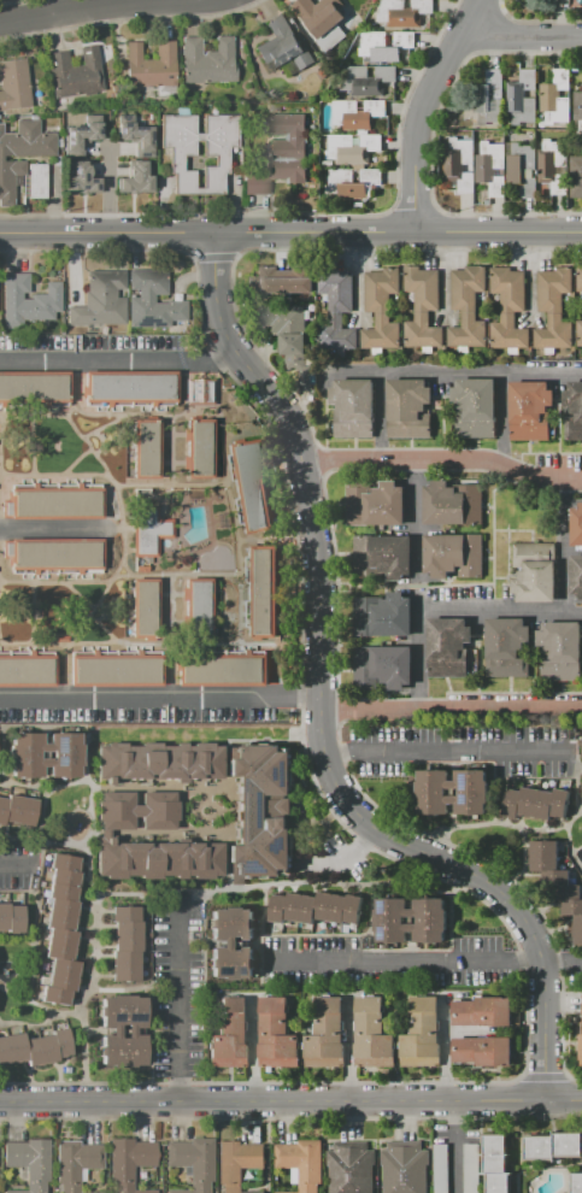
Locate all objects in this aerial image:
road: (72, 8)
building: (404, 12)
building: (322, 22)
road: (523, 35)
building: (283, 46)
building: (383, 46)
building: (207, 61)
building: (149, 65)
building: (75, 74)
building: (368, 81)
building: (14, 86)
building: (489, 96)
building: (554, 98)
building: (521, 99)
building: (577, 105)
road: (422, 111)
building: (355, 113)
building: (80, 137)
building: (136, 137)
building: (288, 147)
building: (352, 148)
building: (214, 152)
building: (20, 153)
building: (196, 163)
building: (462, 164)
building: (553, 165)
building: (492, 168)
building: (523, 169)
building: (576, 176)
building: (81, 178)
building: (135, 178)
building: (35, 180)
building: (353, 183)
building: (255, 184)
road: (108, 192)
road: (108, 235)
road: (316, 235)
road: (498, 235)
building: (284, 280)
building: (580, 280)
building: (29, 300)
building: (100, 300)
building: (152, 301)
building: (339, 306)
building: (422, 306)
building: (466, 306)
building: (508, 307)
building: (553, 307)
building: (382, 308)
building: (580, 333)
building: (288, 336)
road: (122, 363)
road: (458, 374)
building: (128, 387)
building: (35, 388)
building: (199, 392)
building: (353, 407)
building: (474, 407)
building: (408, 409)
building: (529, 410)
building: (574, 411)
road: (378, 417)
road: (1, 419)
road: (501, 419)
building: (147, 448)
building: (199, 448)
road: (442, 458)
road: (105, 465)
road: (88, 466)
road: (106, 472)
road: (77, 475)
building: (248, 486)
building: (53, 503)
building: (451, 503)
building: (375, 506)
road: (486, 506)
road: (416, 516)
building: (576, 524)
building: (148, 530)
road: (517, 530)
road: (39, 531)
road: (123, 535)
road: (493, 535)
road: (235, 546)
building: (52, 554)
building: (452, 554)
building: (381, 556)
road: (487, 558)
road: (507, 560)
building: (533, 571)
building: (576, 575)
road: (337, 577)
road: (118, 578)
road: (82, 586)
road: (415, 586)
building: (260, 592)
building: (146, 607)
building: (196, 607)
park: (34, 609)
road: (506, 610)
road: (74, 612)
road: (572, 612)
building: (382, 615)
road: (0, 641)
road: (120, 642)
building: (447, 646)
building: (506, 646)
building: (558, 651)
building: (382, 666)
building: (114, 668)
building: (25, 670)
building: (222, 670)
road: (63, 671)
road: (169, 671)
road: (176, 699)
road: (18, 700)
road: (449, 707)
road: (318, 709)
road: (151, 724)
road: (576, 741)
road: (441, 752)
building: (23, 756)
building: (157, 760)
road: (67, 783)
road: (576, 788)
building: (431, 793)
building: (535, 803)
building: (17, 810)
road: (88, 811)
building: (136, 811)
building: (260, 811)
road: (41, 817)
road: (508, 823)
road: (448, 844)
road: (569, 848)
road: (383, 852)
building: (158, 859)
parking lot: (17, 864)
road: (17, 865)
building: (557, 880)
road: (366, 885)
road: (122, 893)
building: (314, 909)
building: (10, 917)
building: (412, 919)
road: (94, 923)
building: (60, 929)
road: (261, 934)
road: (316, 934)
building: (124, 942)
building: (231, 942)
parking lot: (384, 963)
road: (425, 964)
parking lot: (177, 985)
road: (151, 986)
road: (119, 989)
road: (178, 1003)
road: (39, 1005)
building: (482, 1011)
road: (29, 1025)
road: (562, 1028)
building: (122, 1030)
building: (372, 1033)
building: (421, 1033)
building: (230, 1034)
building: (276, 1034)
building: (325, 1034)
road: (348, 1046)
building: (34, 1047)
road: (445, 1047)
building: (581, 1047)
road: (253, 1048)
building: (483, 1050)
road: (543, 1077)
road: (317, 1083)
road: (272, 1101)
road: (563, 1101)
road: (290, 1117)
building: (553, 1146)
road: (453, 1147)
building: (192, 1162)
building: (29, 1163)
building: (128, 1163)
building: (237, 1163)
building: (300, 1163)
building: (495, 1163)
building: (75, 1164)
building: (349, 1168)
building: (404, 1168)
building: (470, 1168)
building: (440, 1169)
building: (576, 1183)
building: (94, 1192)

